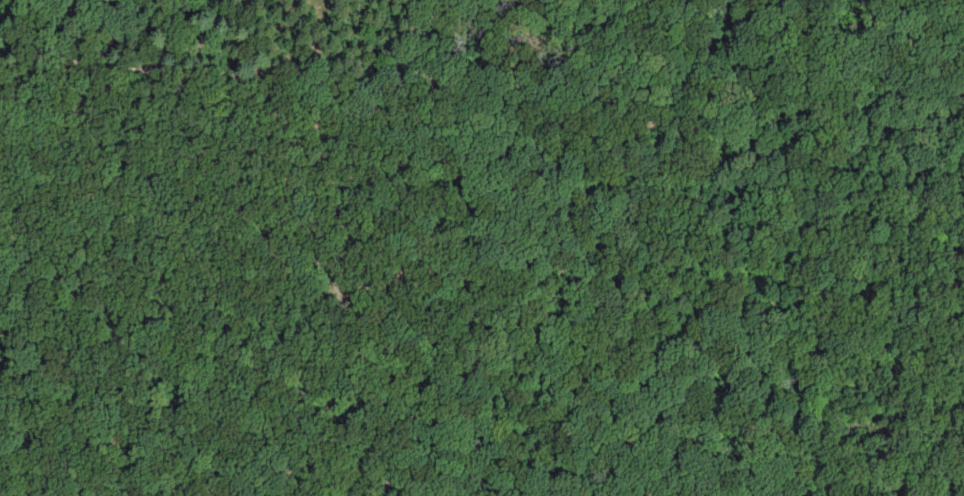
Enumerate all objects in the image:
road: (311, 204)
park: (491, 256)

